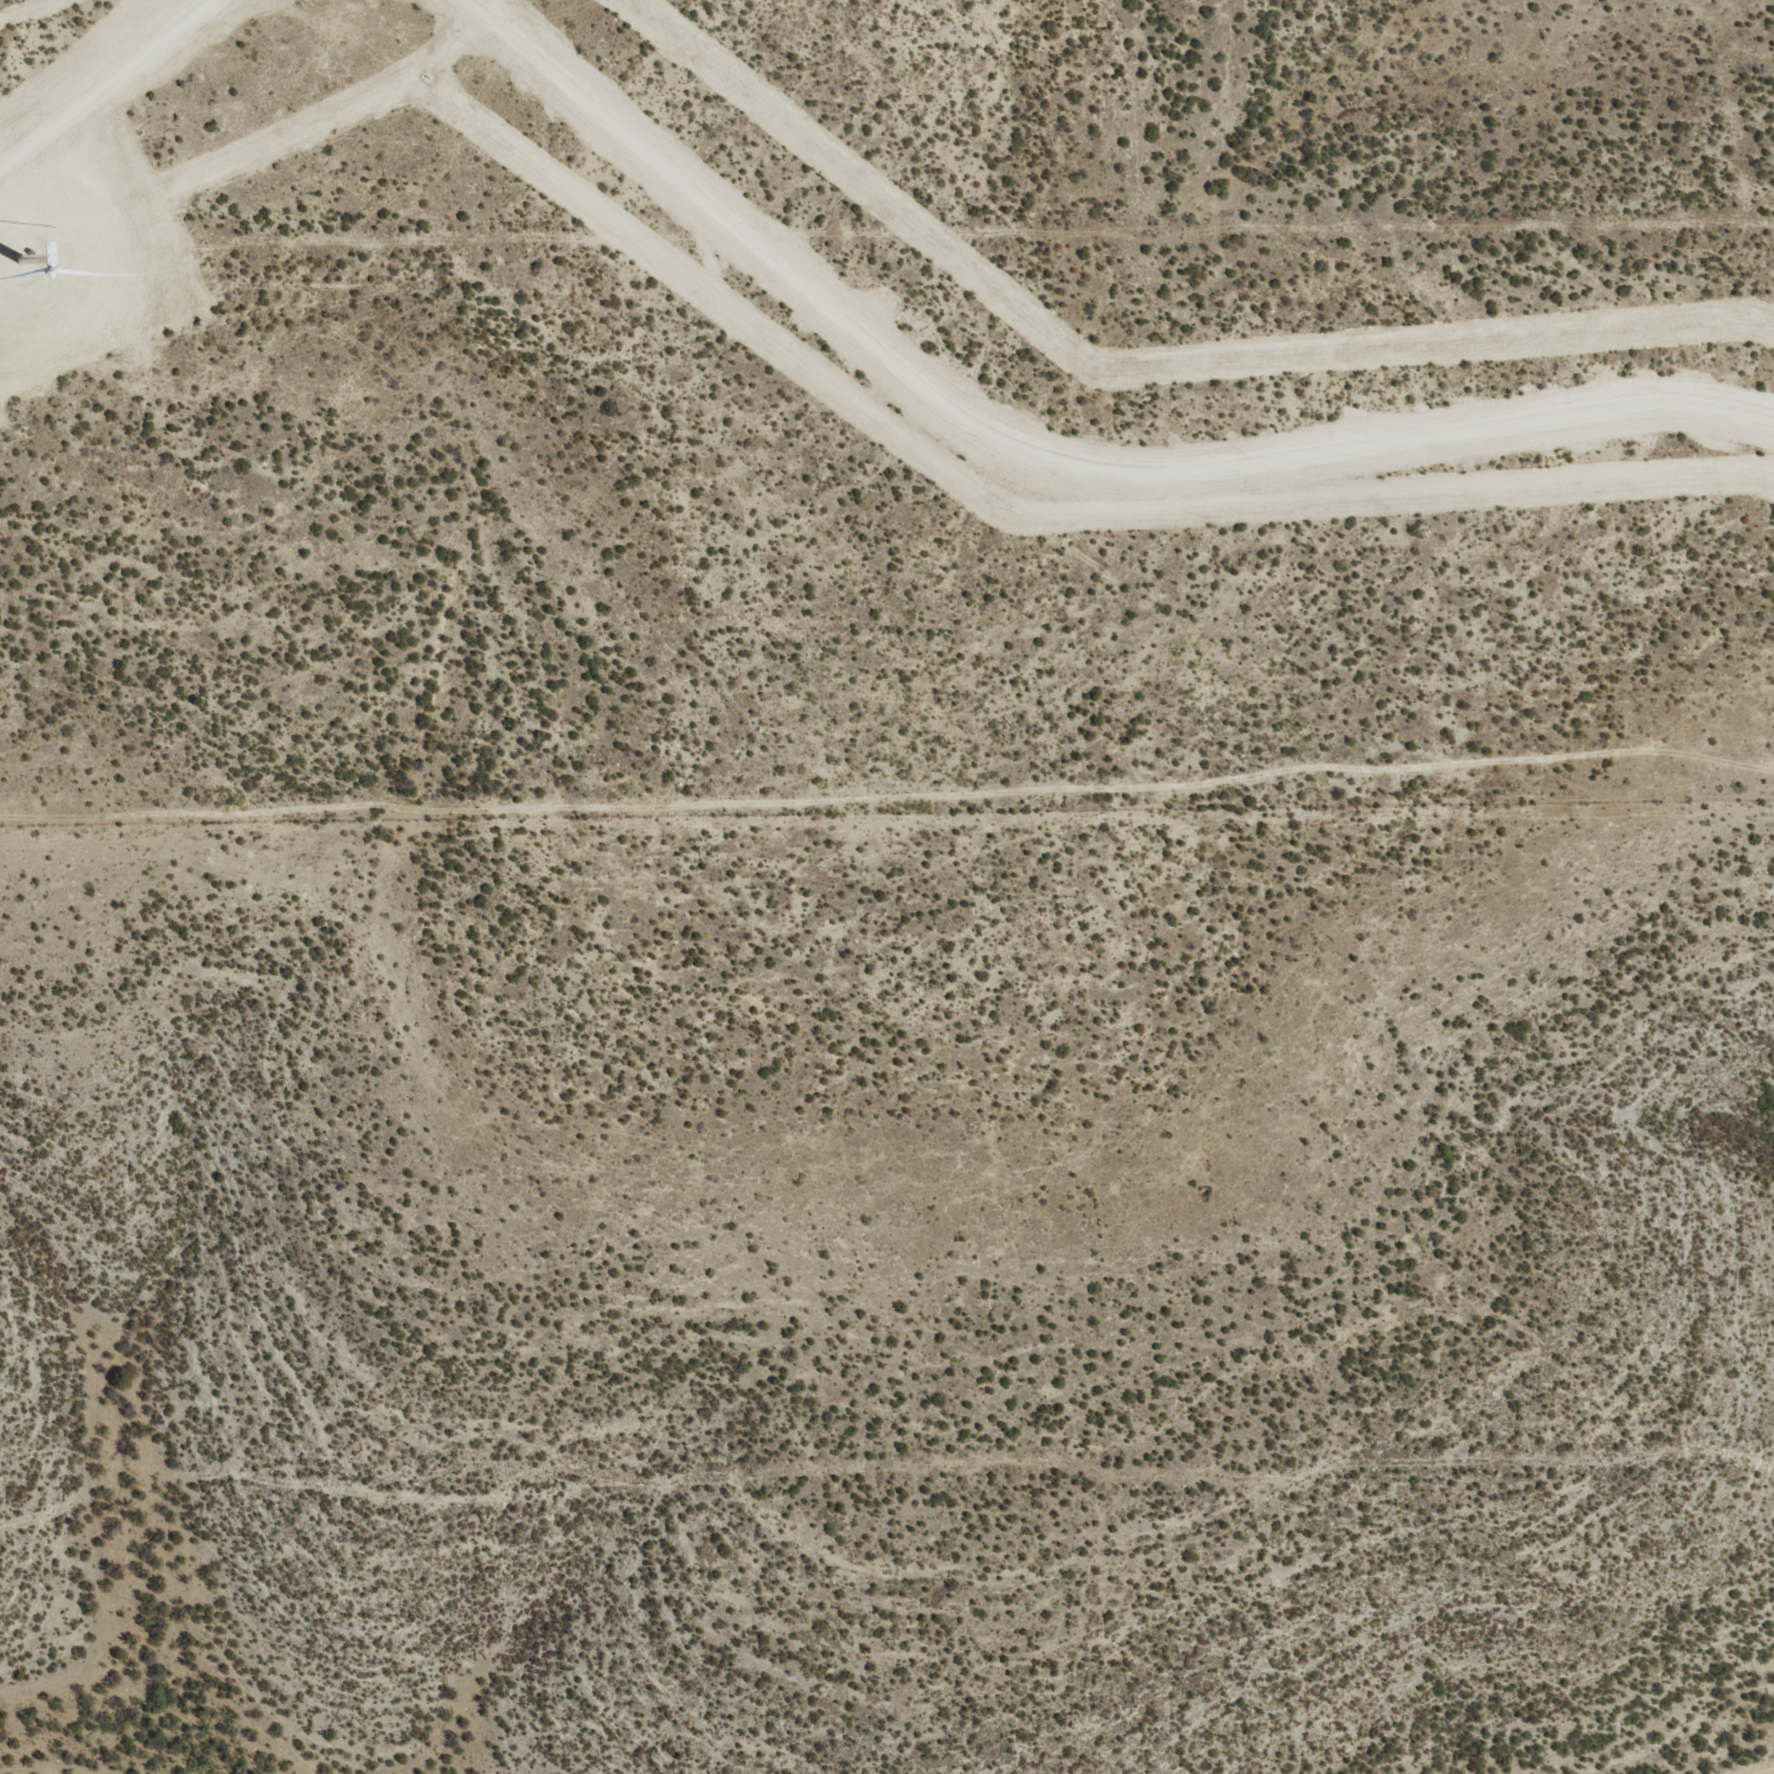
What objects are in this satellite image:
wind turbine: (26, 256)

